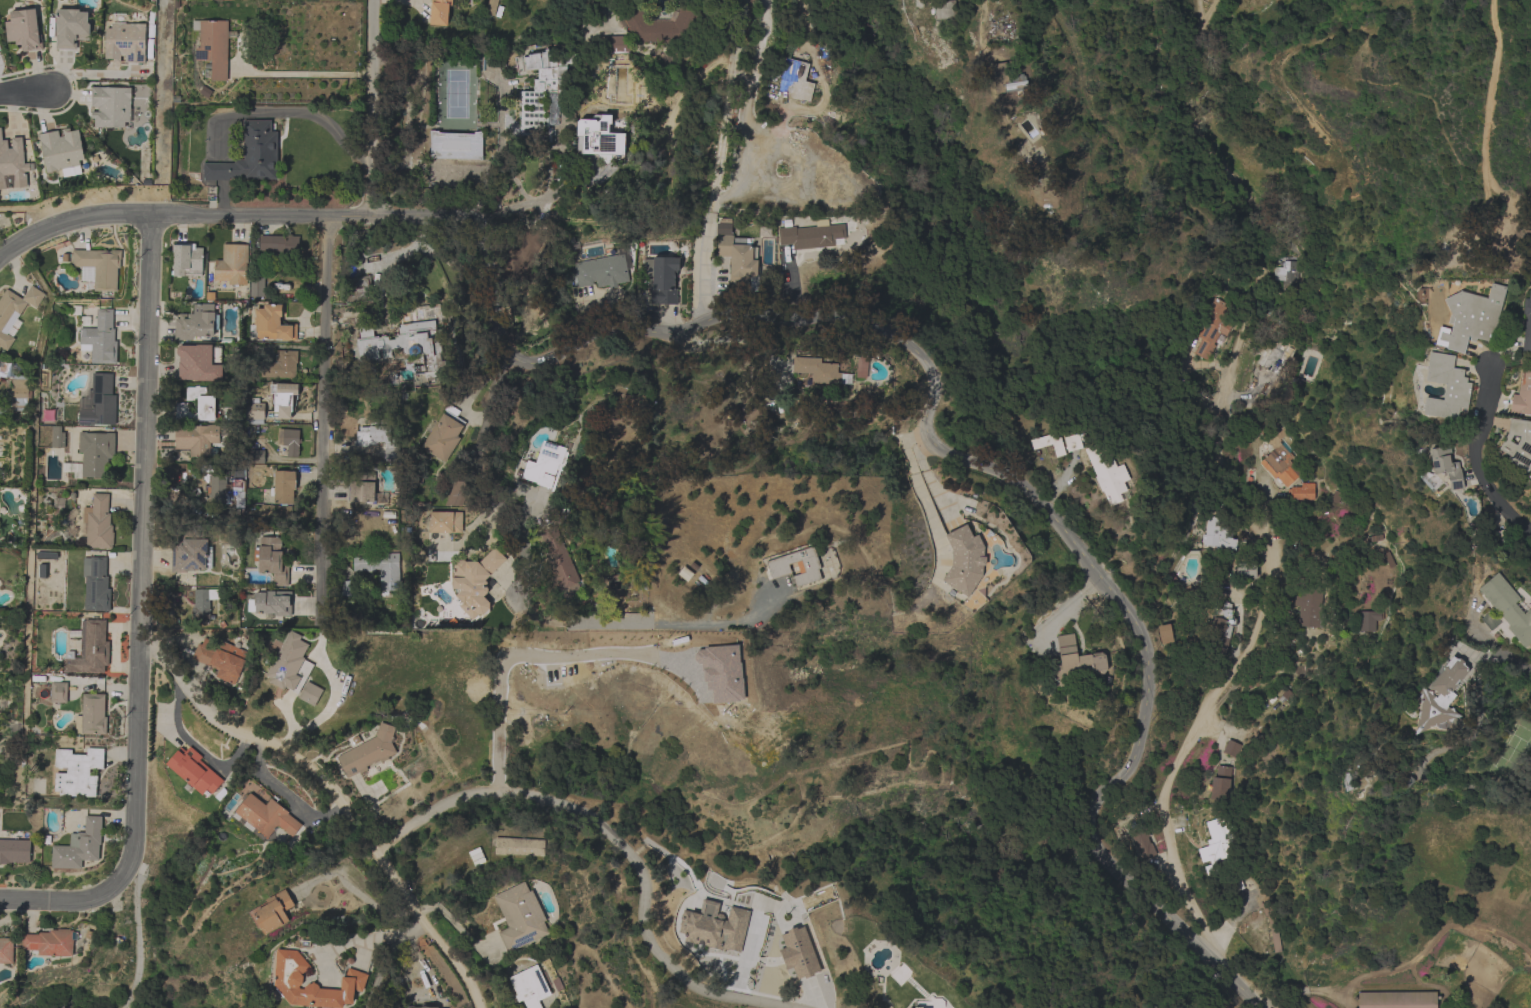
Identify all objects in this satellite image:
building: (491, 7)
building: (945, 9)
building: (439, 12)
road: (972, 18)
road: (980, 18)
building: (666, 26)
building: (70, 27)
building: (23, 29)
building: (125, 40)
building: (213, 45)
building: (612, 47)
road: (307, 76)
building: (796, 80)
building: (1008, 80)
road: (1489, 87)
road: (25, 93)
building: (542, 99)
road: (750, 103)
building: (112, 106)
road: (374, 110)
road: (309, 114)
building: (599, 138)
building: (456, 145)
building: (61, 149)
building: (249, 155)
road: (724, 161)
building: (12, 163)
road: (284, 217)
building: (763, 231)
building: (811, 235)
building: (280, 244)
building: (572, 249)
building: (738, 258)
building: (186, 259)
building: (232, 264)
building: (98, 267)
building: (601, 271)
building: (1286, 277)
building: (664, 280)
building: (256, 286)
road: (787, 287)
building: (357, 289)
building: (14, 312)
building: (1471, 317)
building: (196, 322)
building: (1527, 322)
building: (270, 324)
building: (1212, 327)
building: (100, 338)
building: (403, 347)
building: (1276, 357)
building: (4, 361)
building: (198, 361)
building: (280, 365)
building: (862, 366)
building: (820, 370)
road: (478, 380)
building: (1255, 382)
building: (1446, 387)
building: (20, 391)
building: (1522, 394)
building: (283, 398)
building: (100, 402)
building: (197, 405)
building: (254, 412)
road: (325, 423)
building: (443, 434)
building: (57, 436)
building: (196, 438)
building: (379, 439)
building: (288, 440)
building: (1073, 440)
building: (1049, 442)
building: (1518, 443)
building: (92, 454)
building: (256, 456)
building: (1277, 456)
road: (1473, 460)
building: (546, 464)
building: (1446, 465)
road: (963, 468)
building: (1107, 471)
road: (1230, 483)
building: (283, 487)
building: (376, 487)
building: (226, 489)
building: (365, 489)
building: (1301, 491)
building: (450, 511)
building: (97, 522)
building: (1218, 534)
building: (192, 551)
road: (143, 552)
building: (272, 559)
building: (964, 560)
building: (560, 563)
building: (808, 566)
building: (381, 568)
building: (42, 570)
building: (1245, 570)
building: (685, 573)
building: (474, 581)
building: (96, 585)
building: (616, 587)
building: (348, 588)
building: (270, 602)
building: (201, 606)
road: (517, 606)
building: (1309, 607)
building: (1508, 607)
building: (1369, 620)
building: (1490, 620)
building: (1223, 628)
building: (1165, 633)
building: (89, 649)
building: (221, 658)
building: (1077, 659)
road: (1502, 661)
building: (290, 663)
road: (526, 663)
building: (56, 691)
building: (310, 693)
building: (1440, 697)
road: (332, 699)
building: (91, 715)
building: (1231, 748)
building: (368, 751)
building: (77, 771)
building: (194, 771)
building: (1221, 783)
building: (1347, 783)
road: (336, 798)
building: (264, 816)
road: (619, 843)
building: (1215, 845)
building: (79, 846)
building: (519, 846)
building: (1143, 846)
building: (14, 847)
building: (1234, 883)
road: (60, 901)
building: (273, 911)
building: (520, 916)
building: (715, 928)
road: (139, 936)
road: (356, 940)
building: (49, 942)
building: (6, 950)
road: (364, 952)
building: (797, 953)
road: (382, 961)
building: (311, 983)
building: (530, 986)
building: (62, 1000)
building: (1397, 1000)
building: (929, 1003)
road: (1291, 1003)
building: (417, 1006)

